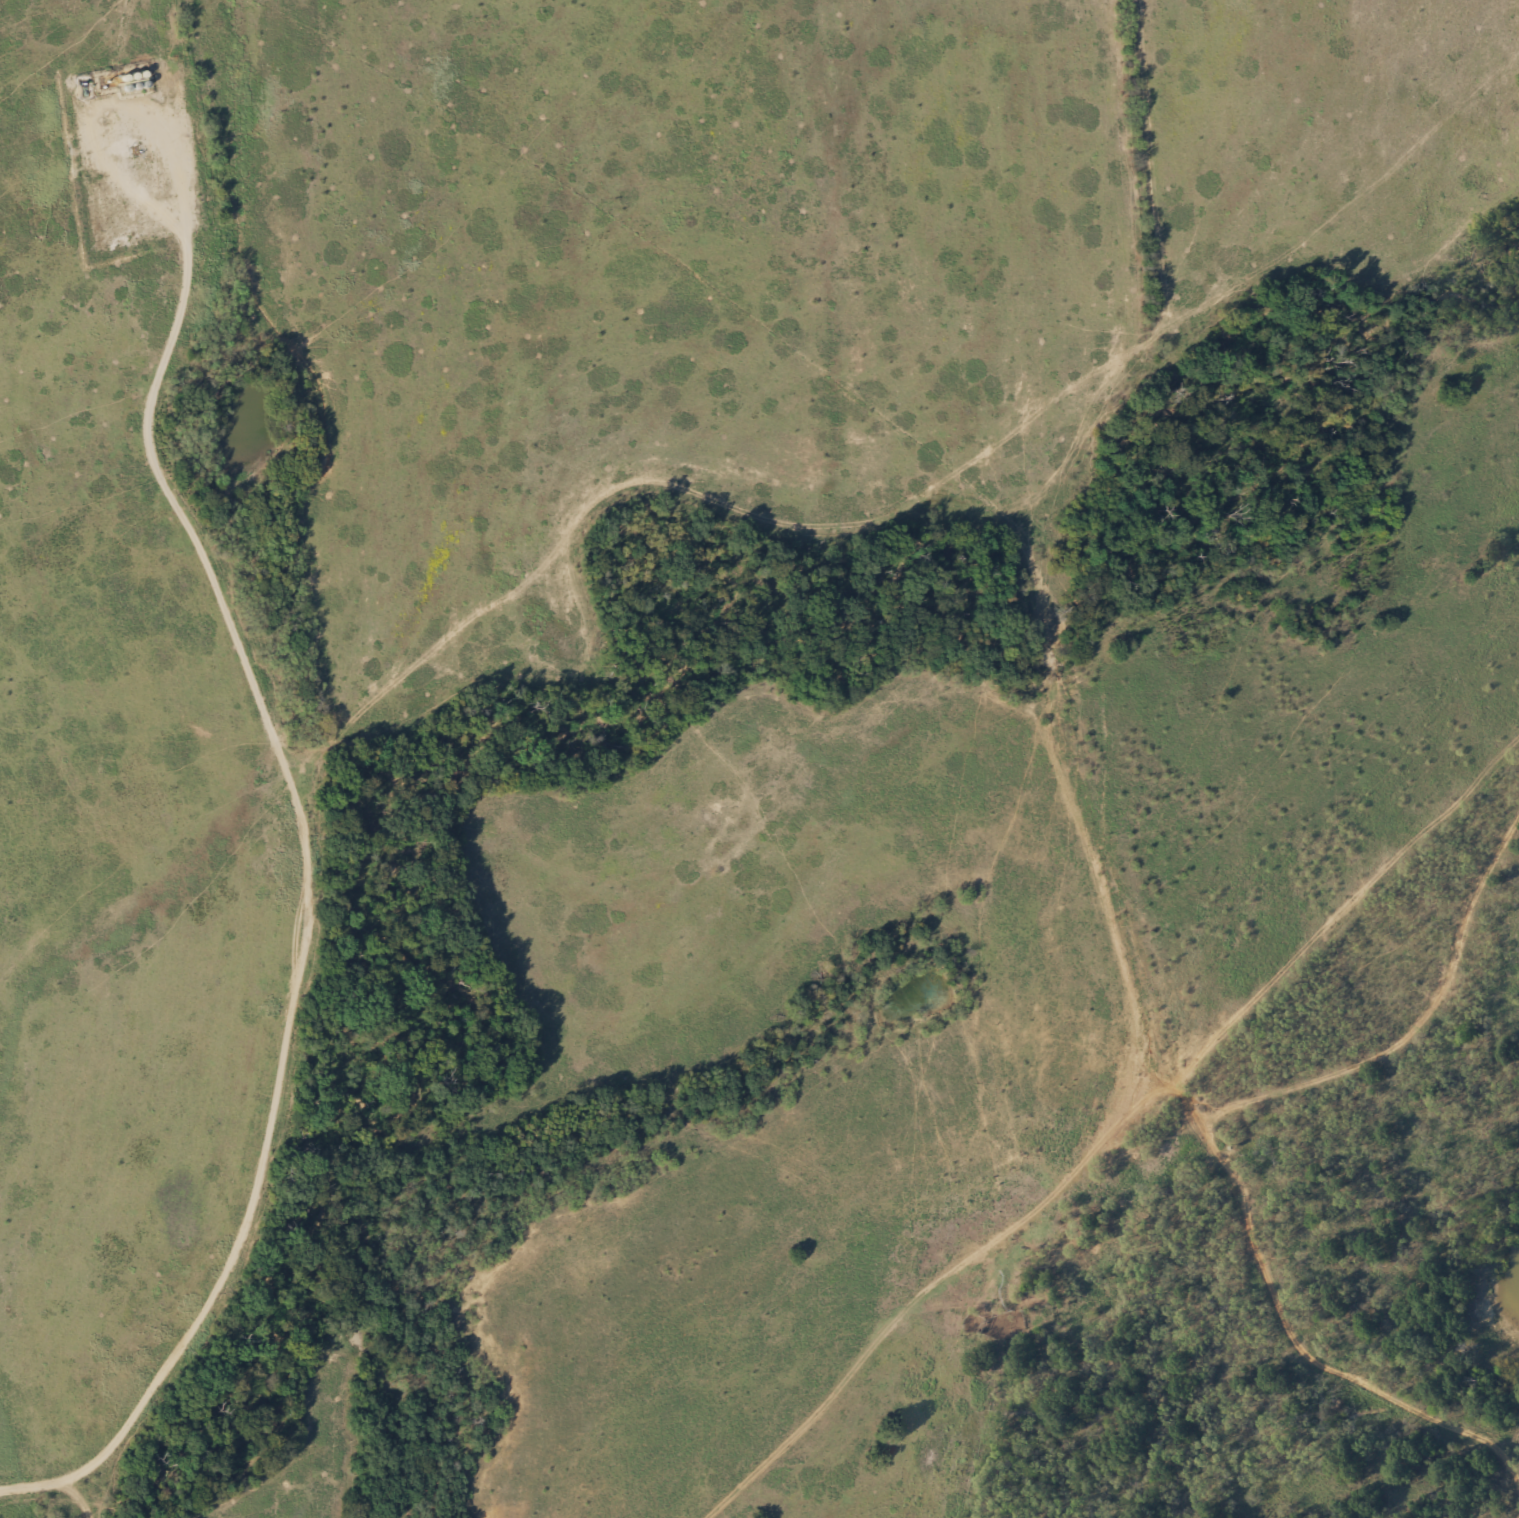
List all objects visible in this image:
road: (851, 225)

